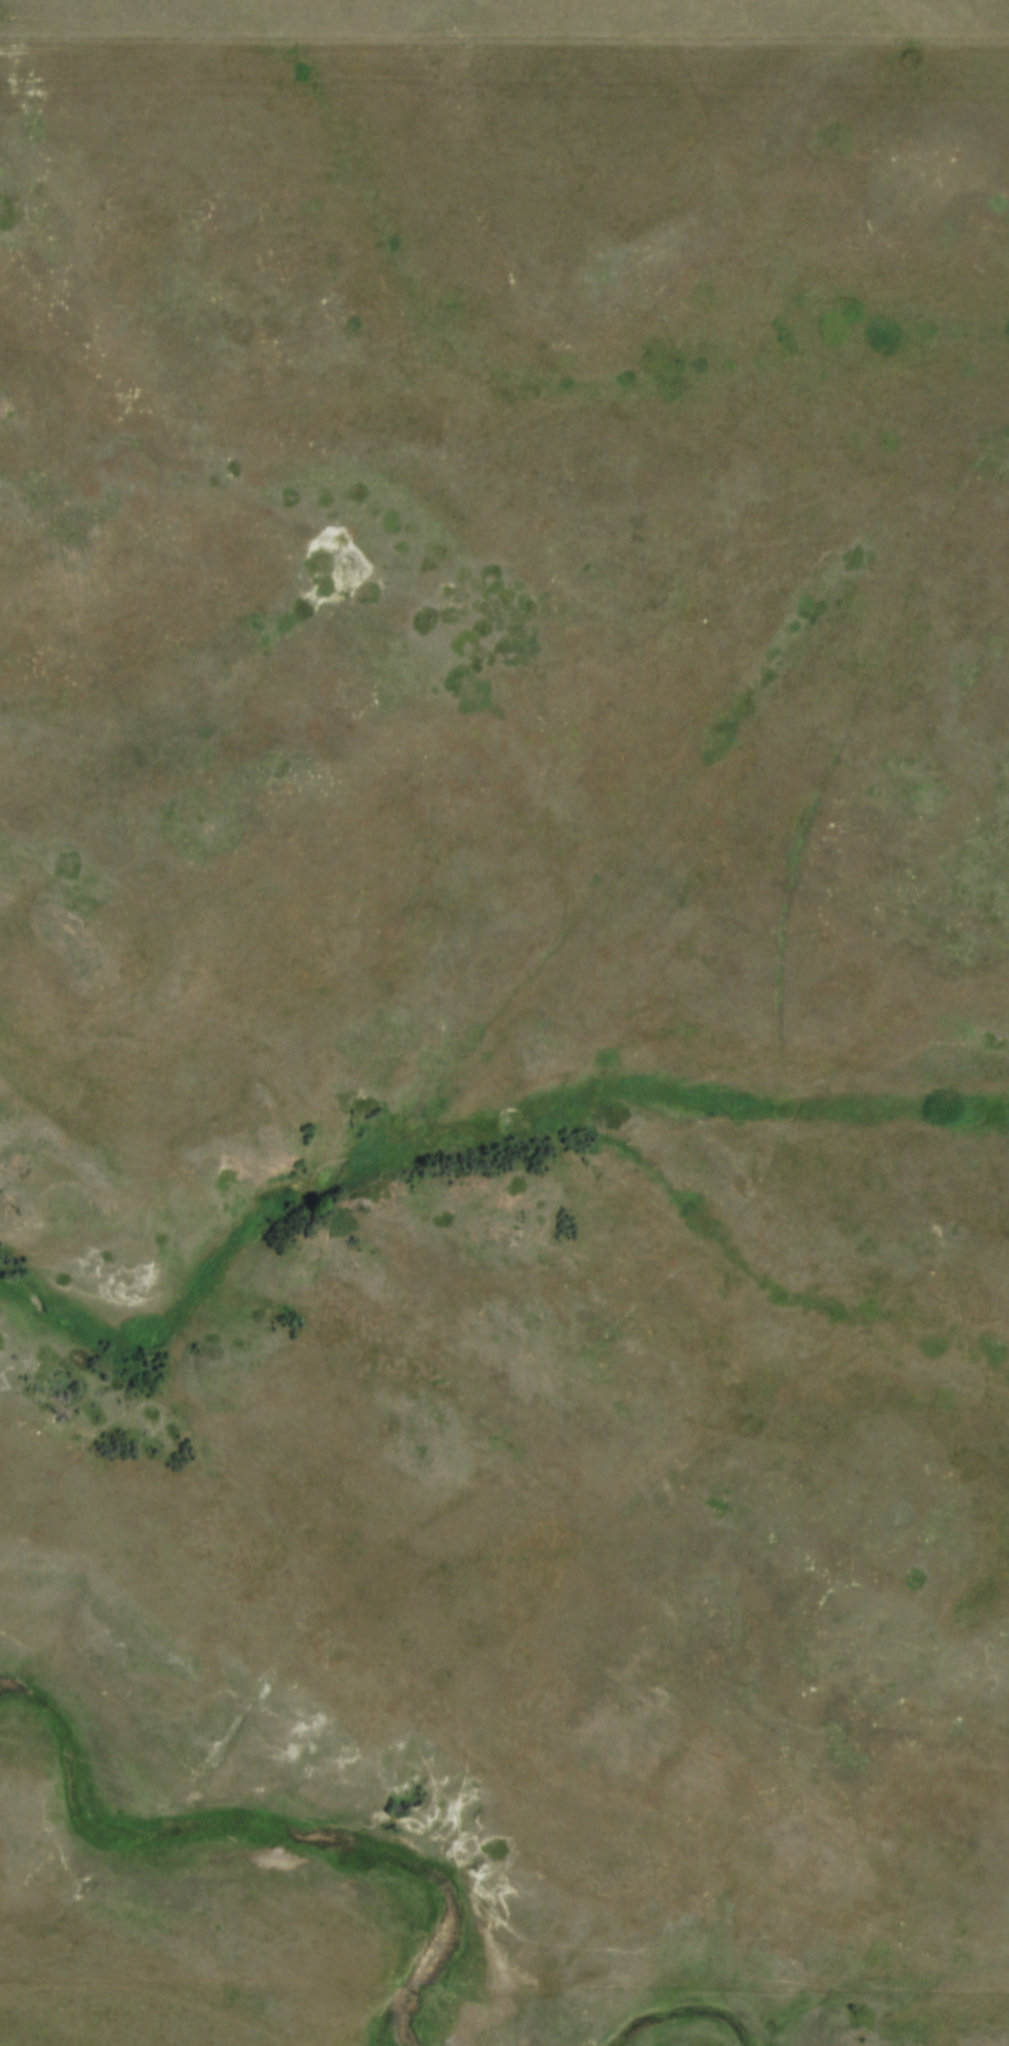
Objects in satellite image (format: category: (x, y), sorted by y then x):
road: (504, 48)

